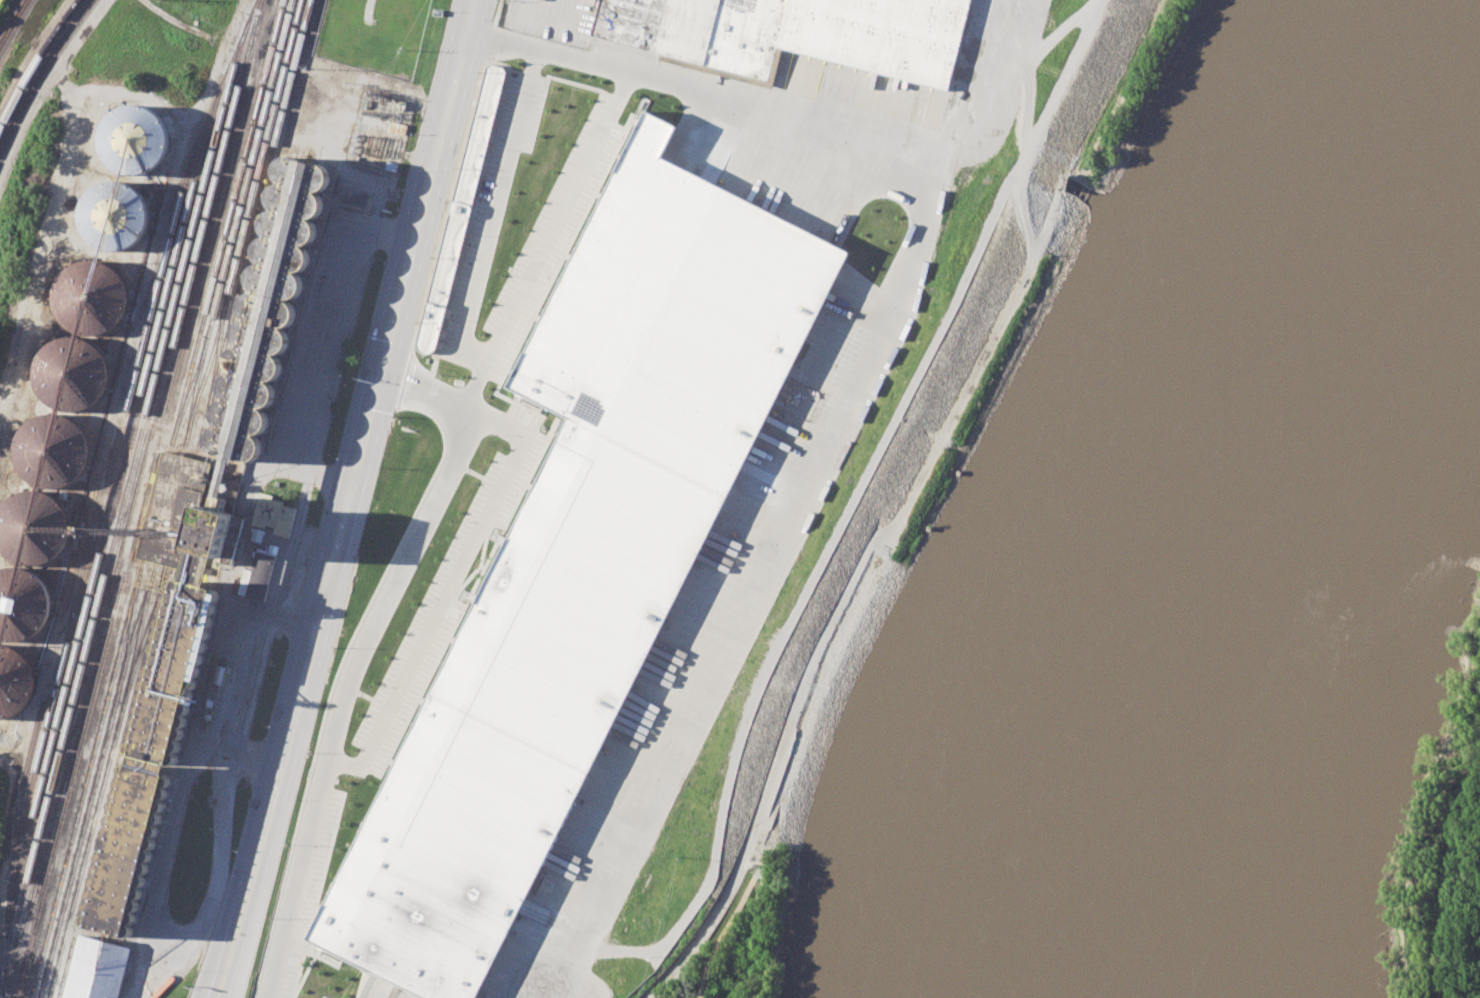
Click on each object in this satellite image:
road: (552, 10)
railway: (12, 21)
building: (796, 35)
railway: (35, 62)
road: (1020, 72)
railway: (42, 73)
railway: (226, 73)
road: (712, 97)
power substation: (381, 128)
building: (134, 139)
silo: (134, 139)
railway: (248, 211)
building: (462, 214)
road: (494, 214)
building: (111, 217)
silo: (111, 217)
road: (543, 242)
railway: (211, 283)
building: (92, 297)
silo: (92, 297)
building: (267, 314)
road: (304, 347)
road: (385, 354)
railway: (207, 370)
building: (73, 373)
silo: (73, 373)
railway: (189, 388)
road: (892, 432)
building: (53, 451)
silo: (53, 451)
river: (1244, 480)
railway: (133, 498)
railway: (183, 498)
railway: (170, 500)
railway: (122, 503)
railway: (111, 505)
railway: (90, 508)
railway: (100, 511)
building: (273, 514)
railway: (135, 528)
building: (34, 529)
silo: (34, 529)
road: (290, 546)
road: (402, 549)
building: (578, 550)
road: (747, 581)
road: (443, 595)
building: (23, 605)
silo: (23, 605)
railway: (130, 626)
railway: (137, 645)
road: (230, 677)
building: (15, 682)
silo: (15, 682)
building: (159, 726)
railway: (84, 783)
railway: (103, 784)
road: (256, 853)
road: (291, 889)
road: (746, 929)
road: (719, 935)
railway: (7, 937)
park: (743, 945)
road: (241, 947)
building: (99, 972)

